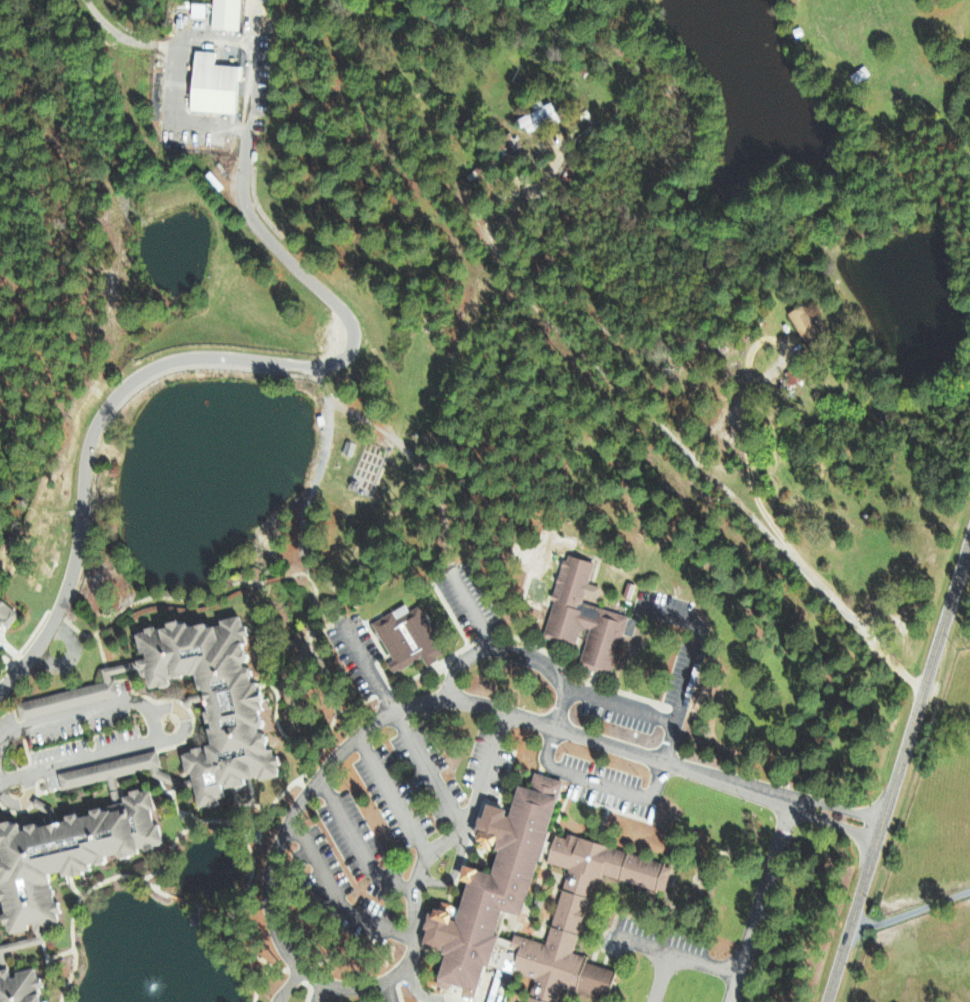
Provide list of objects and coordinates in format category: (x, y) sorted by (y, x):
building: (195, 10)
building: (224, 14)
road: (203, 37)
building: (858, 74)
building: (210, 83)
building: (537, 116)
building: (800, 323)
road: (182, 359)
road: (602, 374)
road: (749, 466)
building: (6, 613)
building: (581, 615)
road: (861, 627)
building: (404, 636)
road: (369, 669)
building: (72, 693)
building: (207, 699)
road: (154, 723)
building: (105, 768)
road: (427, 769)
road: (895, 769)
road: (313, 781)
road: (392, 791)
road: (355, 841)
building: (63, 852)
building: (488, 881)
road: (335, 890)
building: (7, 945)
building: (15, 986)

